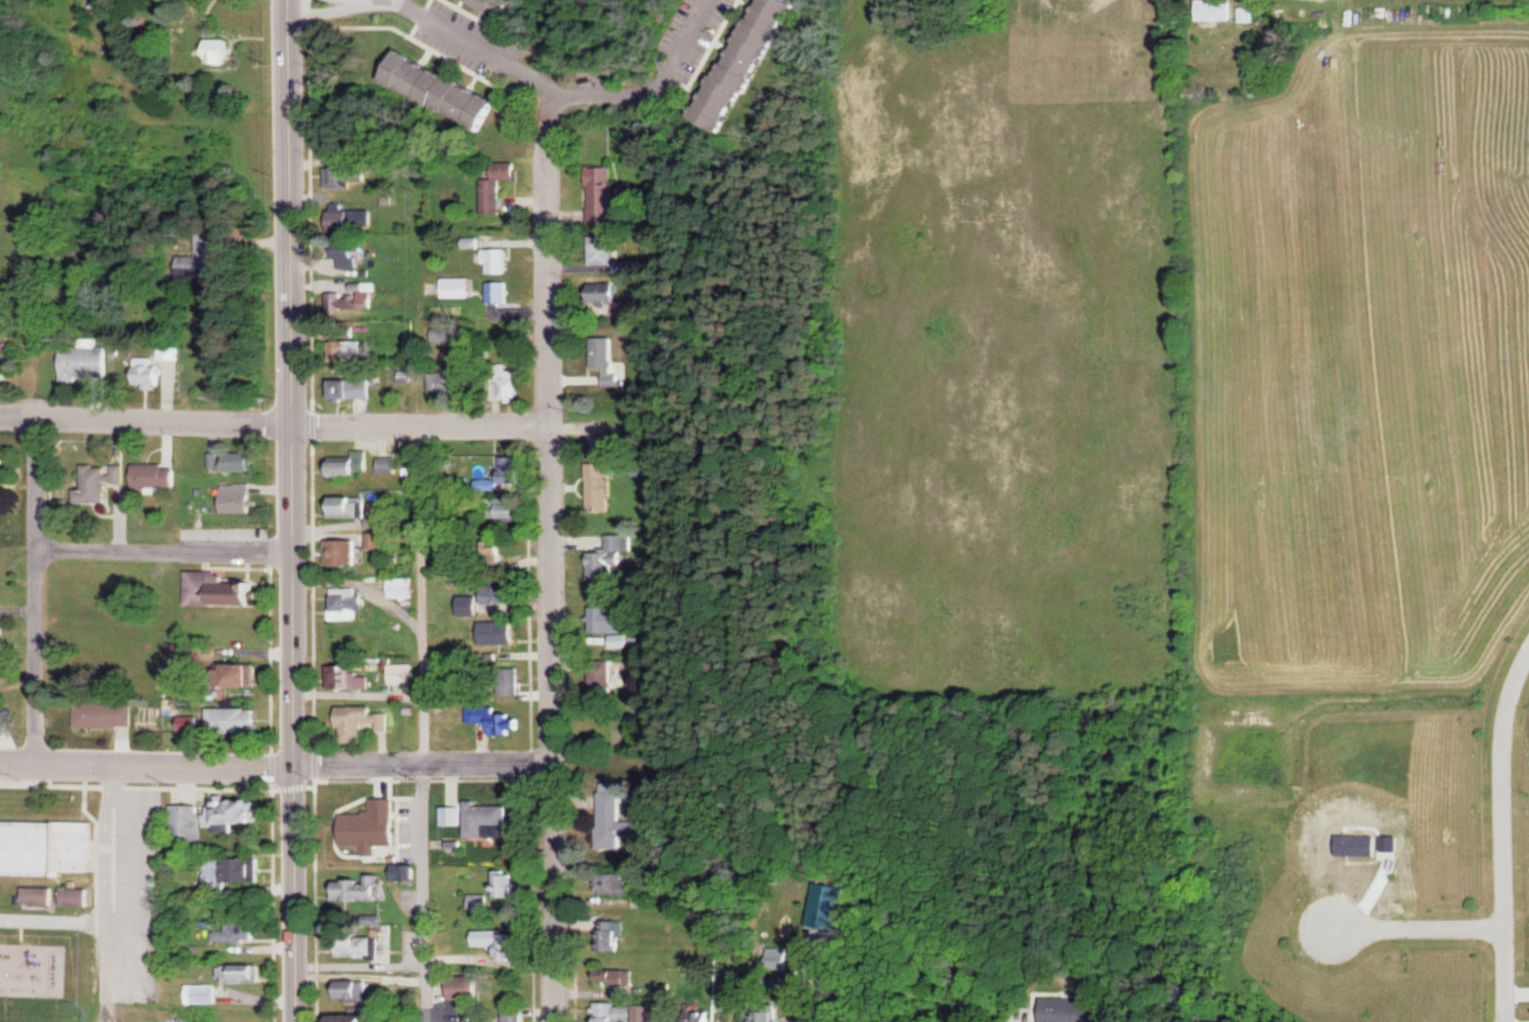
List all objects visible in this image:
building: (1218, 9)
building: (221, 50)
building: (746, 62)
road: (568, 88)
building: (445, 89)
building: (353, 176)
building: (498, 185)
building: (603, 193)
building: (604, 249)
building: (349, 252)
building: (497, 259)
building: (199, 260)
building: (458, 287)
building: (497, 291)
building: (607, 292)
building: (354, 297)
building: (350, 353)
building: (4, 360)
building: (605, 360)
building: (91, 362)
building: (150, 374)
building: (409, 376)
building: (462, 377)
building: (354, 388)
road: (146, 418)
road: (422, 423)
building: (232, 461)
building: (353, 465)
building: (390, 465)
building: (512, 469)
building: (3, 471)
building: (157, 475)
building: (100, 481)
building: (601, 486)
building: (238, 498)
building: (348, 506)
building: (508, 508)
road: (292, 511)
road: (164, 550)
building: (345, 551)
road: (553, 554)
building: (608, 556)
road: (36, 585)
building: (404, 587)
building: (221, 589)
building: (501, 592)
building: (347, 603)
building: (471, 605)
building: (606, 619)
building: (1, 633)
building: (509, 636)
building: (404, 673)
building: (600, 673)
building: (248, 674)
building: (350, 675)
road: (359, 685)
building: (1, 705)
building: (107, 715)
building: (487, 716)
building: (237, 719)
building: (363, 720)
road: (424, 722)
road: (146, 761)
road: (423, 765)
building: (238, 811)
building: (453, 815)
building: (488, 820)
building: (612, 820)
building: (187, 821)
building: (374, 828)
road: (1502, 833)
building: (48, 847)
building: (235, 870)
building: (504, 883)
building: (618, 883)
building: (360, 888)
road: (103, 891)
building: (42, 895)
building: (77, 896)
building: (480, 902)
building: (645, 902)
road: (50, 914)
road: (1418, 929)
building: (237, 930)
building: (613, 935)
building: (500, 942)
building: (363, 945)
road: (362, 958)
building: (242, 973)
building: (617, 976)
building: (468, 989)
building: (354, 990)
building: (203, 994)
building: (1068, 1009)
building: (624, 1012)
building: (514, 1014)
building: (760, 1016)
building: (659, 1017)
building: (352, 1018)
building: (700, 1018)

